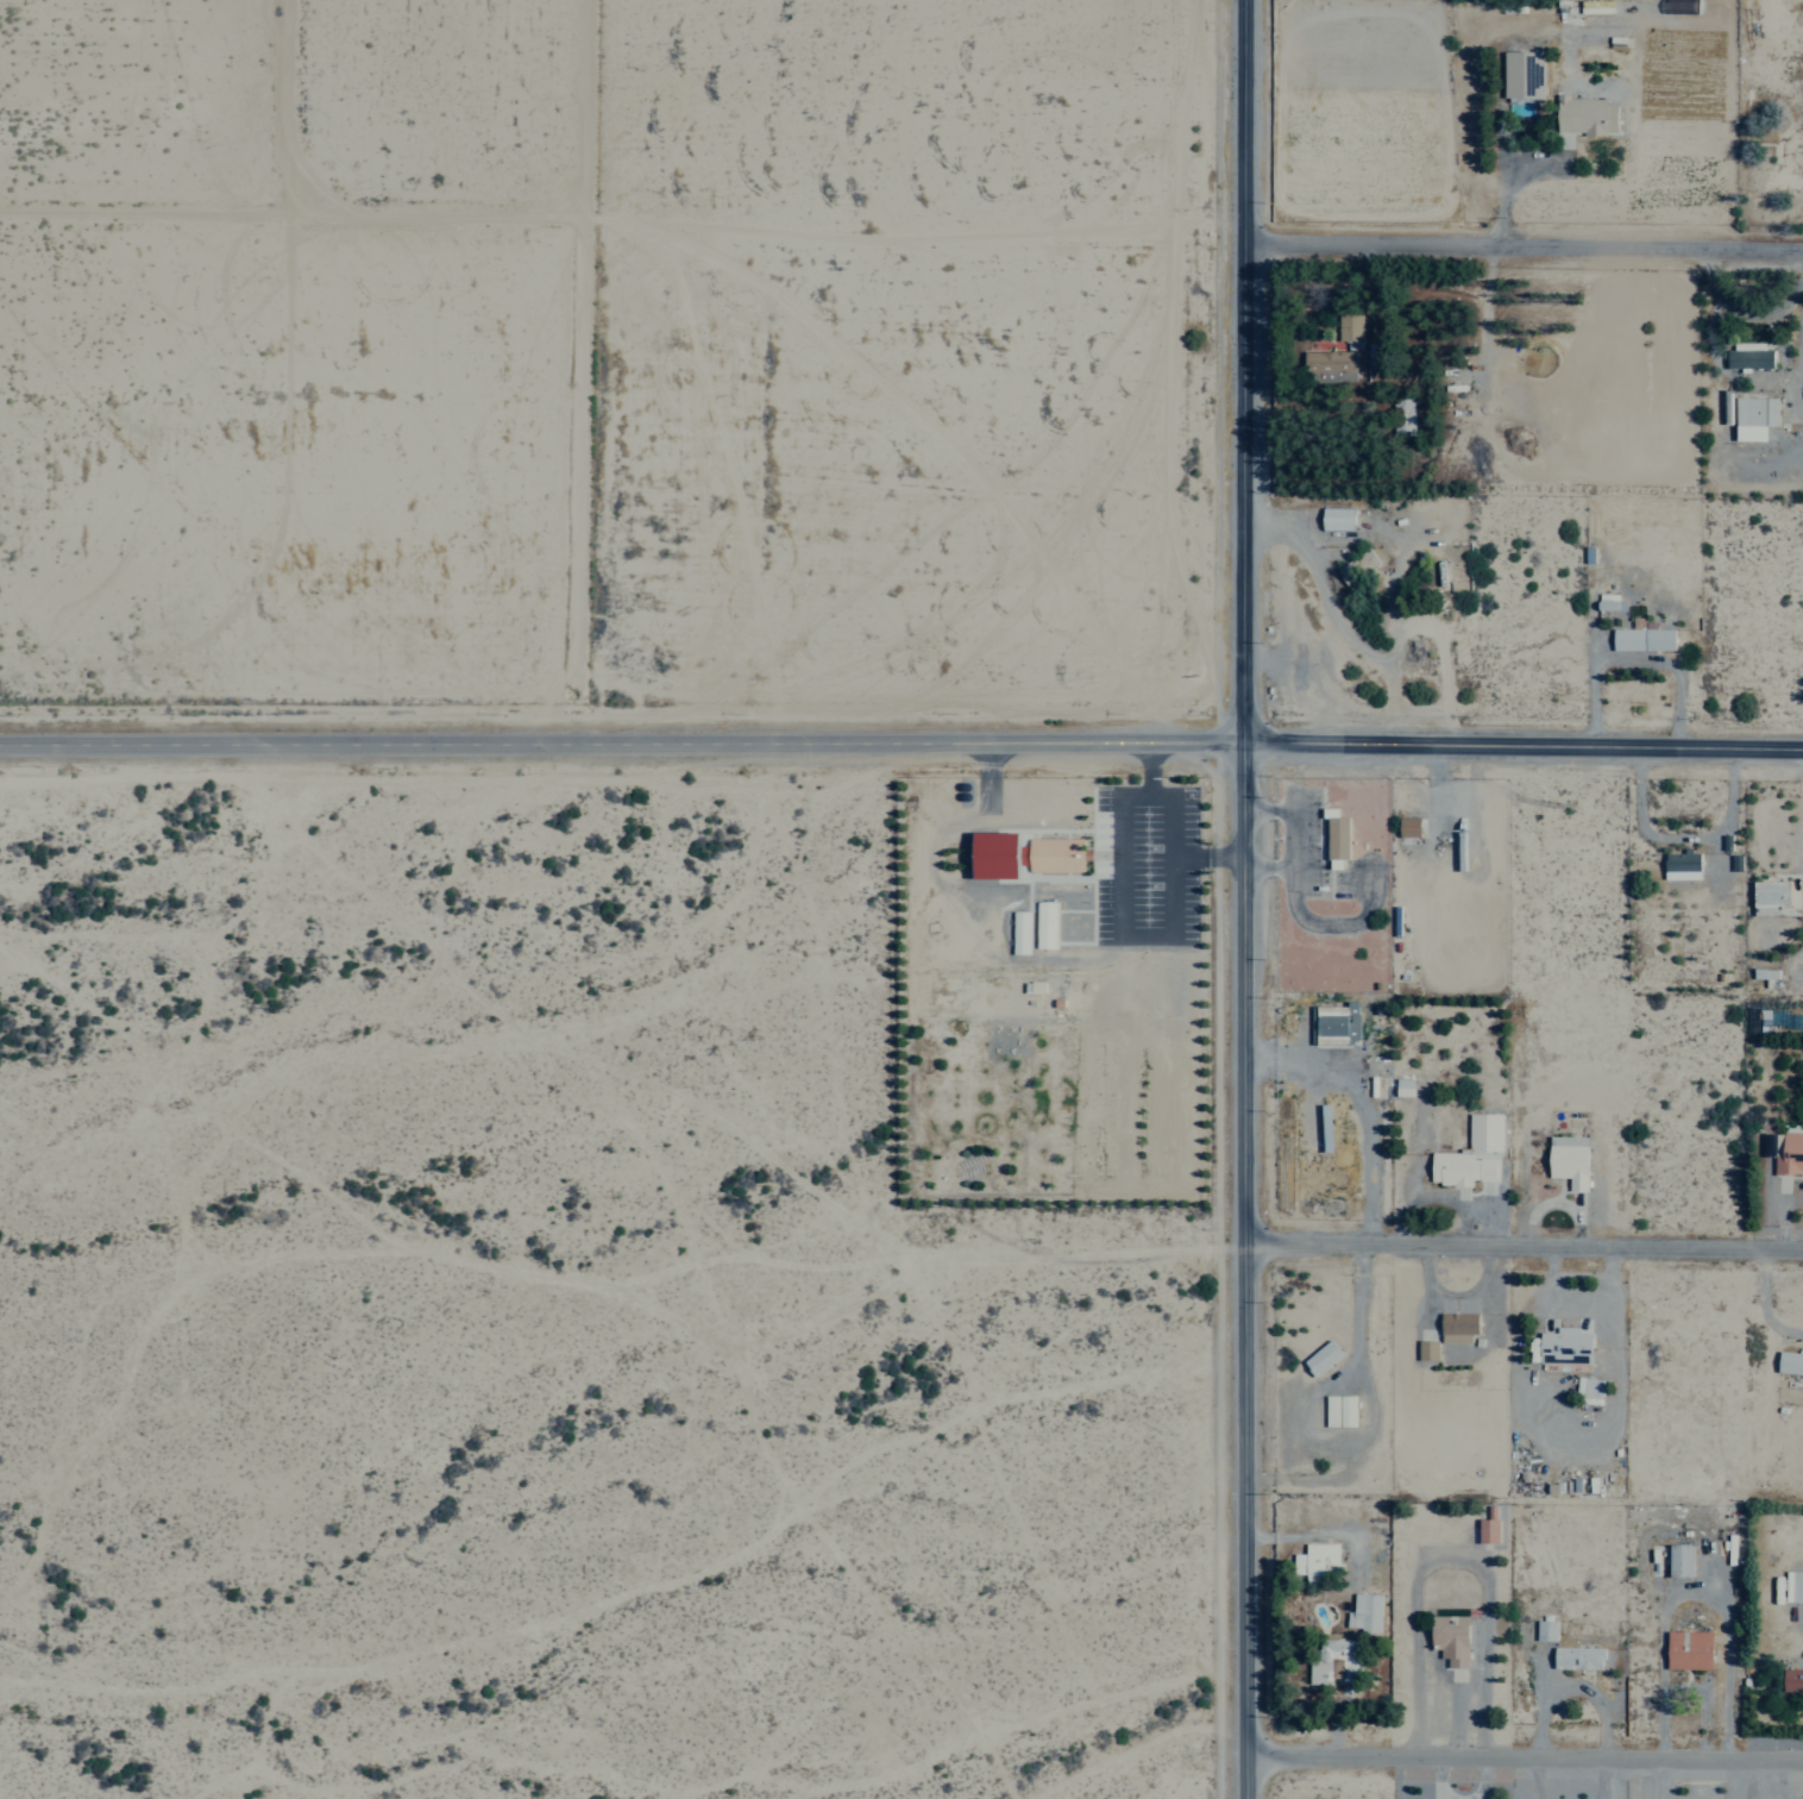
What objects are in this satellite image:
building: (1520, 73)
building: (1583, 115)
road: (1522, 242)
building: (1347, 330)
building: (1747, 356)
building: (1326, 364)
building: (1403, 414)
building: (1752, 416)
building: (1334, 519)
building: (1641, 637)
road: (901, 735)
building: (1406, 827)
building: (1333, 834)
building: (991, 854)
building: (1055, 854)
building: (1679, 865)
building: (1767, 897)
road: (1240, 898)
building: (1043, 924)
building: (1018, 933)
building: (1763, 973)
building: (1034, 986)
building: (1337, 1021)
building: (1401, 1087)
building: (1788, 1149)
building: (1468, 1154)
building: (1566, 1160)
road: (1522, 1245)
building: (1455, 1328)
building: (1562, 1346)
building: (1426, 1350)
building: (1319, 1358)
building: (1789, 1364)
building: (1587, 1390)
building: (1337, 1411)
building: (1485, 1531)
building: (1314, 1561)
building: (1678, 1561)
building: (1792, 1587)
building: (1363, 1613)
building: (1544, 1630)
building: (1447, 1638)
building: (1686, 1650)
building: (1576, 1657)
building: (1331, 1660)
building: (1791, 1680)
road: (1524, 1750)

